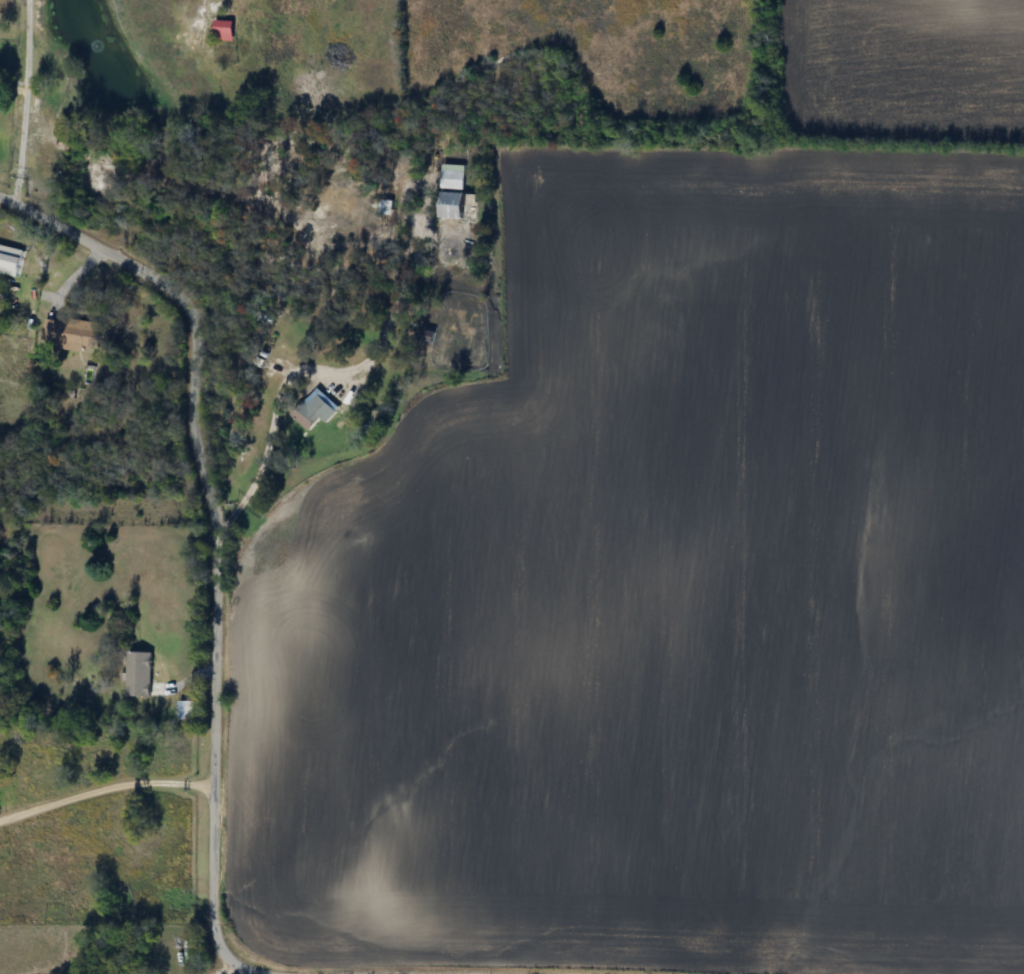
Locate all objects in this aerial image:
building: (225, 30)
road: (25, 102)
building: (4, 295)
building: (74, 334)
building: (306, 417)
road: (269, 433)
road: (216, 536)
building: (139, 675)
building: (187, 712)
road: (105, 788)
road: (222, 968)

